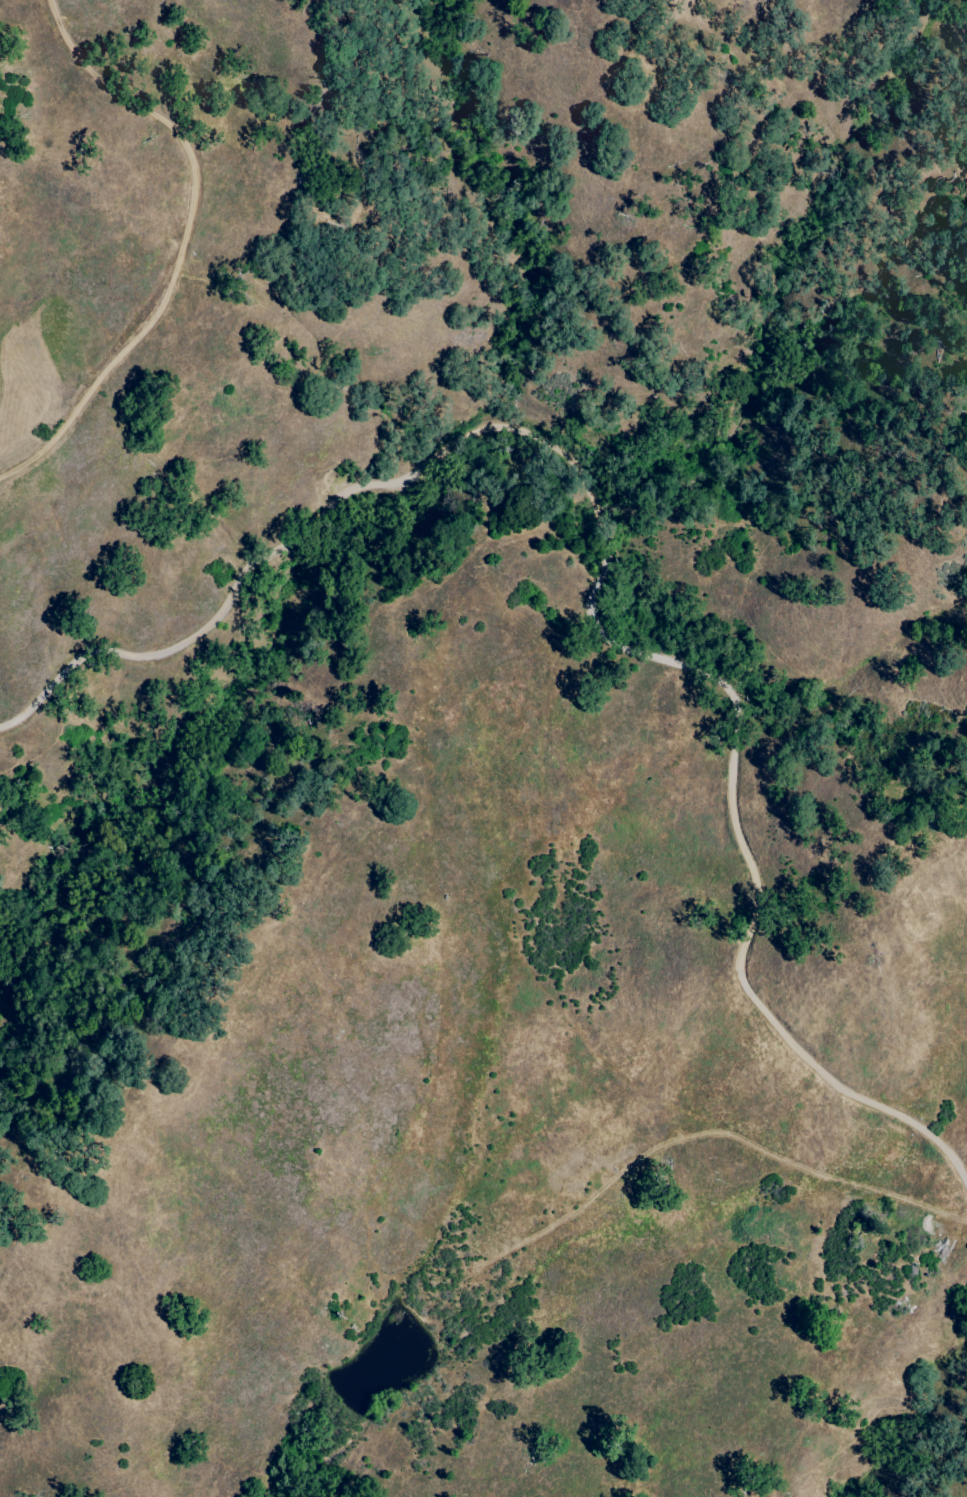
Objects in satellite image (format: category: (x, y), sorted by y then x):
road: (183, 240)
road: (376, 481)
road: (303, 890)

